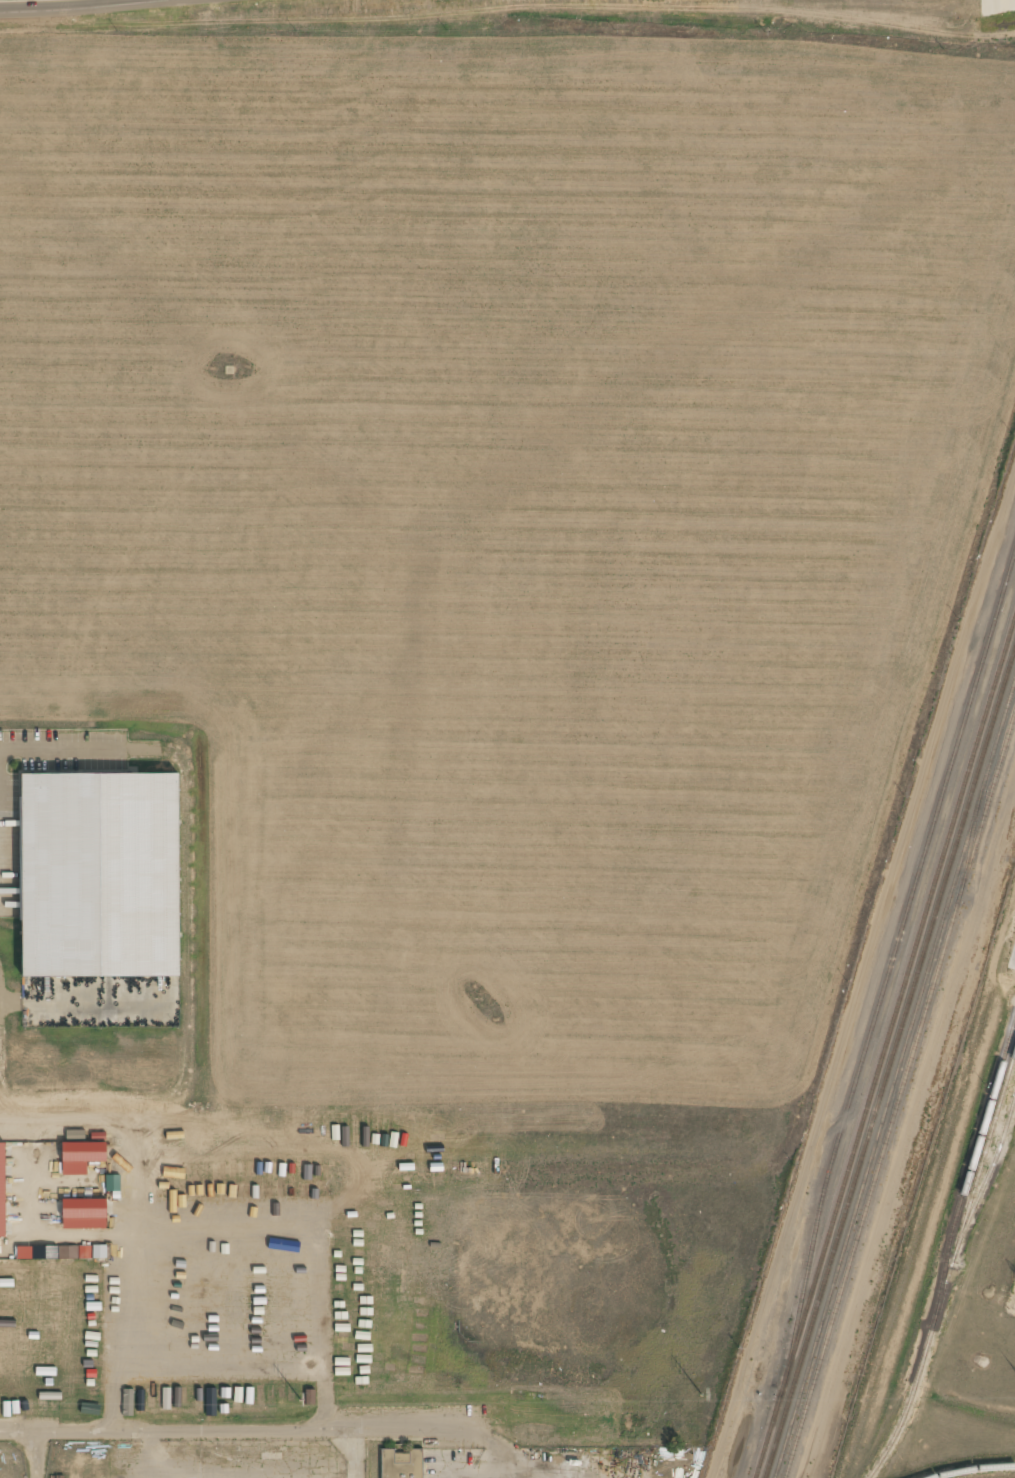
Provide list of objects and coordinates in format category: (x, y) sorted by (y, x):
road: (92, 4)
road: (508, 4)
building: (89, 879)
railway: (892, 959)
railway: (885, 1046)
railway: (889, 1058)
railway: (895, 1080)
railway: (900, 1095)
building: (84, 1152)
railway: (987, 1180)
building: (99, 1183)
building: (2, 1191)
building: (84, 1209)
building: (55, 1252)
building: (85, 1252)
building: (99, 1252)
railway: (951, 1269)
power substation: (1014, 1306)
power tower: (701, 1395)
power tower: (302, 1400)
building: (401, 1464)
railway: (973, 1470)

